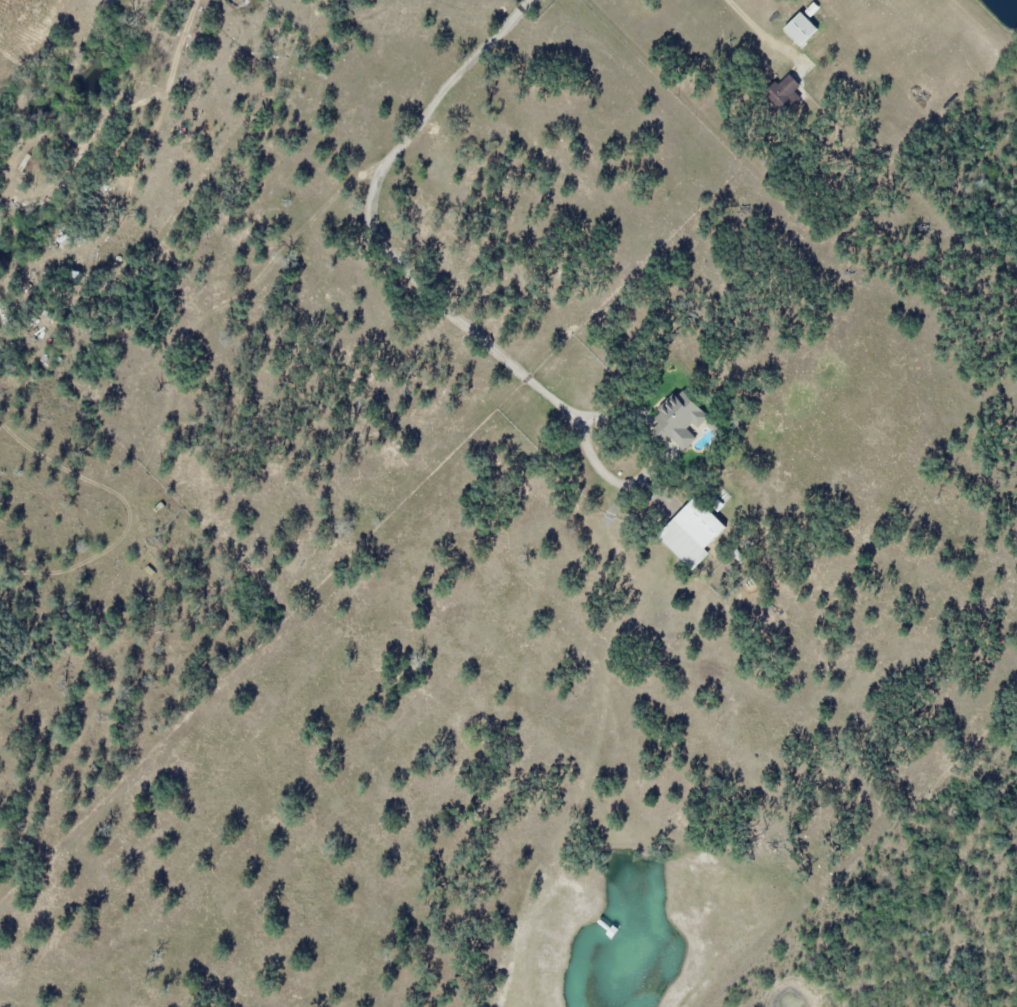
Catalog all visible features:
building: (803, 28)
building: (785, 93)
building: (683, 417)
building: (694, 532)

